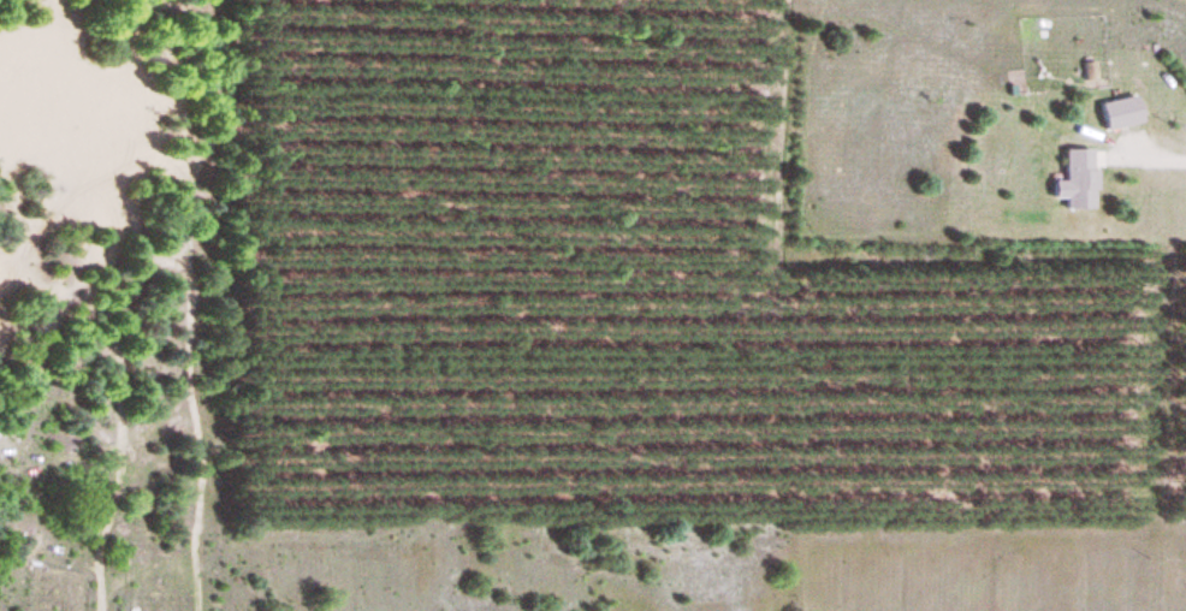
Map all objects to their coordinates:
building: (1123, 114)
building: (1079, 180)

